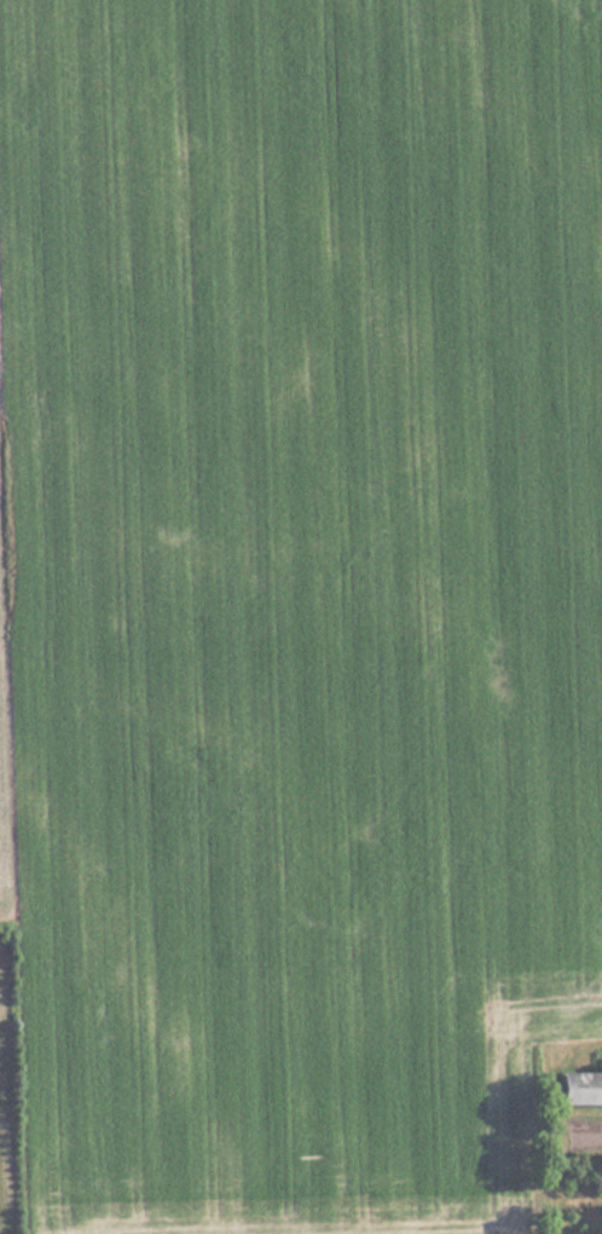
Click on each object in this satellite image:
building: (574, 1085)

